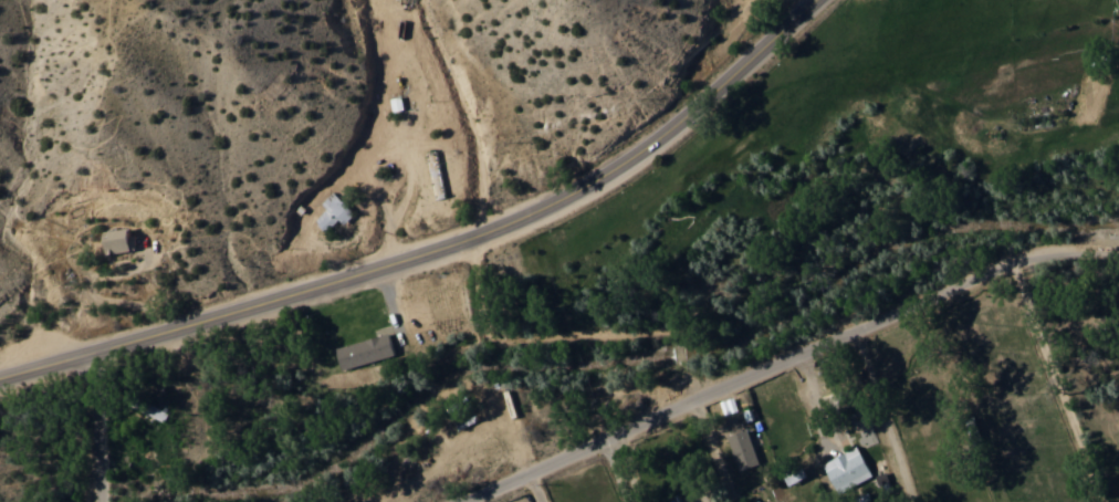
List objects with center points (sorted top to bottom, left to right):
building: (334, 212)
building: (117, 240)
road: (440, 247)
road: (817, 335)
building: (365, 351)
river: (615, 351)
road: (1059, 383)
road: (883, 410)
road: (97, 425)
road: (714, 446)
building: (743, 449)
road: (629, 464)
road: (615, 468)
building: (847, 469)
road: (491, 485)
road: (535, 485)
road: (102, 501)

